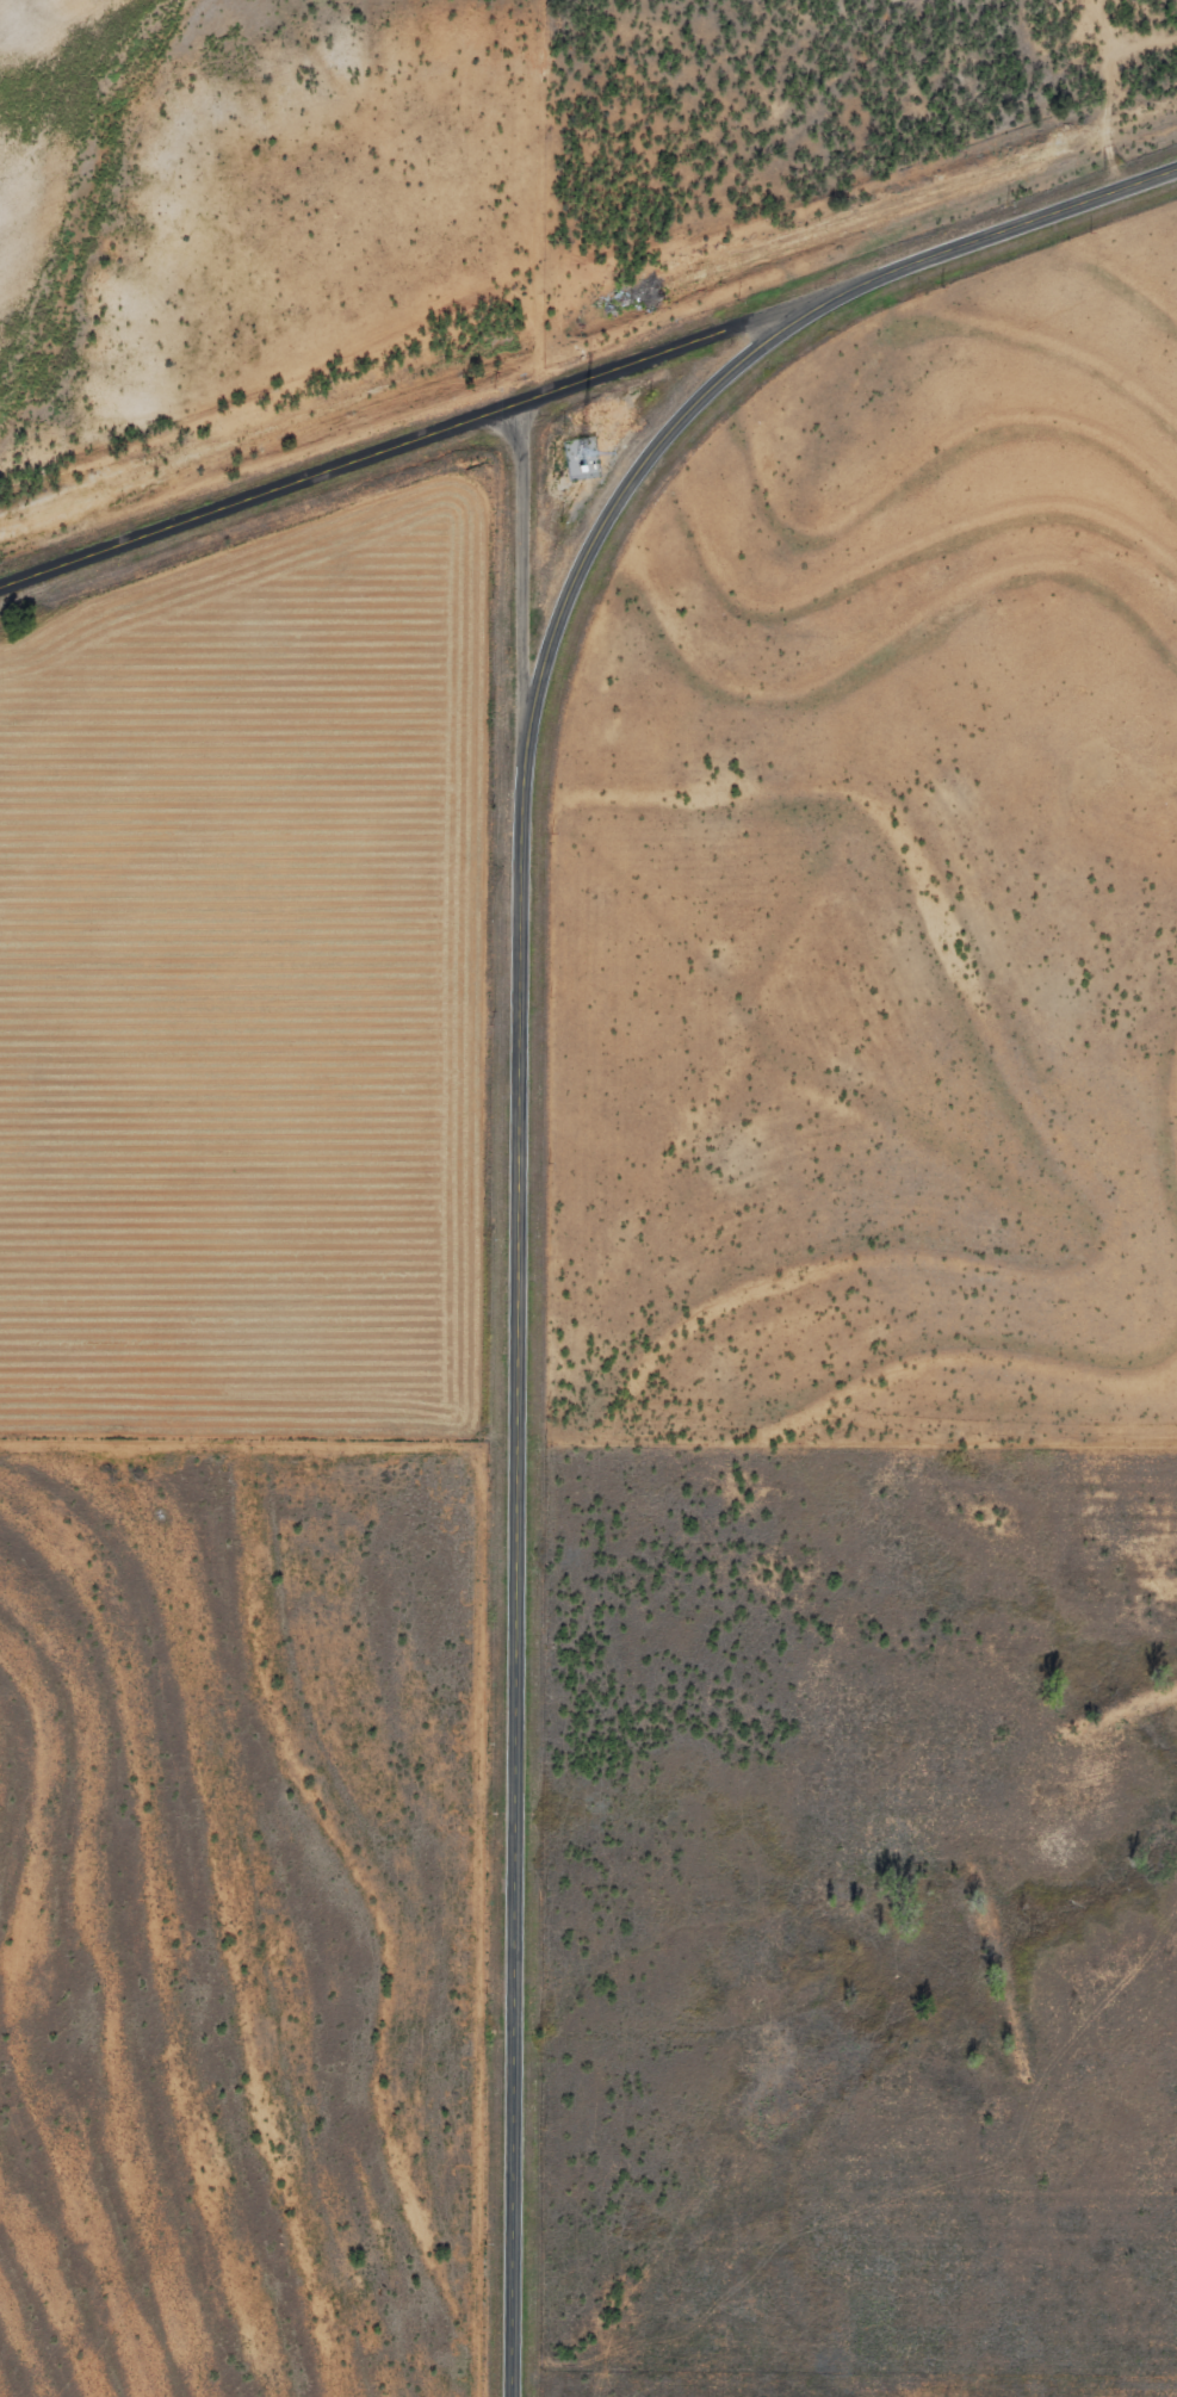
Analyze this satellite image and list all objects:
road: (997, 237)
railway: (588, 312)
road: (408, 442)
road: (513, 570)
road: (520, 1294)

